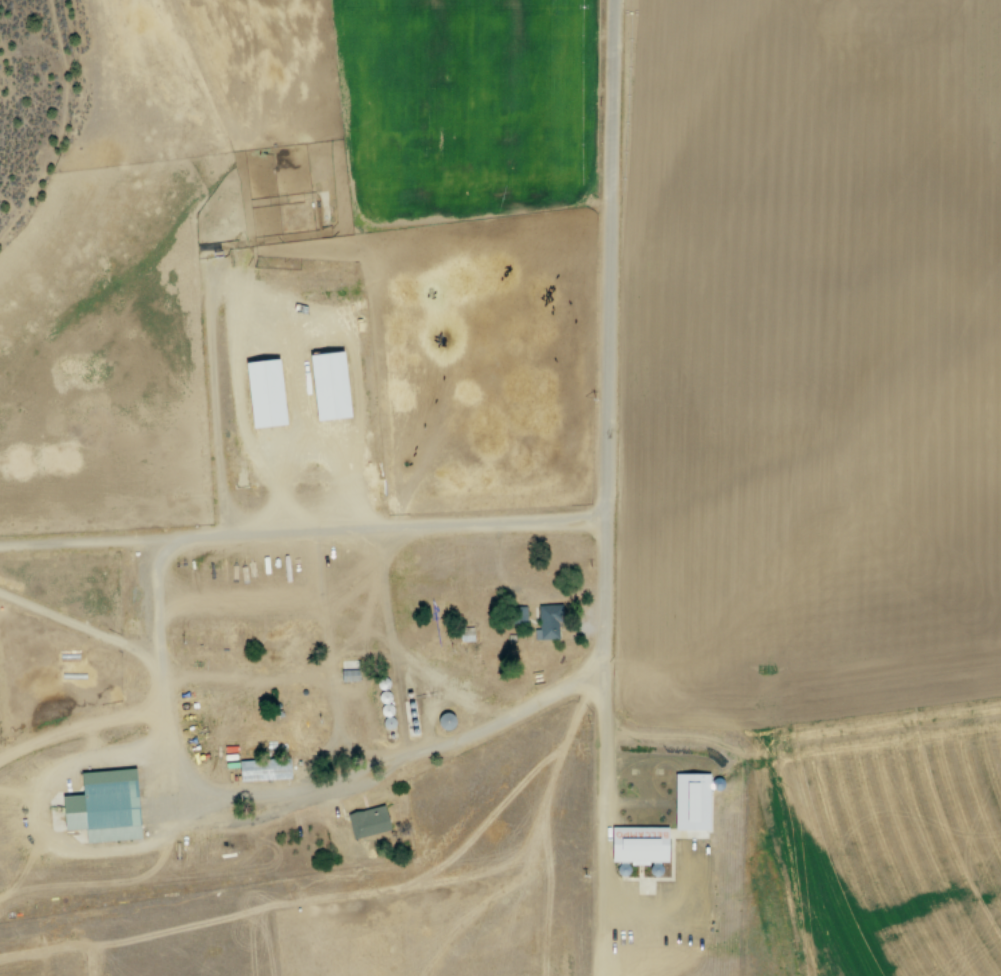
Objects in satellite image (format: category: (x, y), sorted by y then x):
building: (324, 383)
building: (260, 391)
road: (596, 619)
building: (544, 621)
building: (348, 674)
building: (261, 769)
building: (100, 805)
building: (690, 809)
building: (365, 821)

